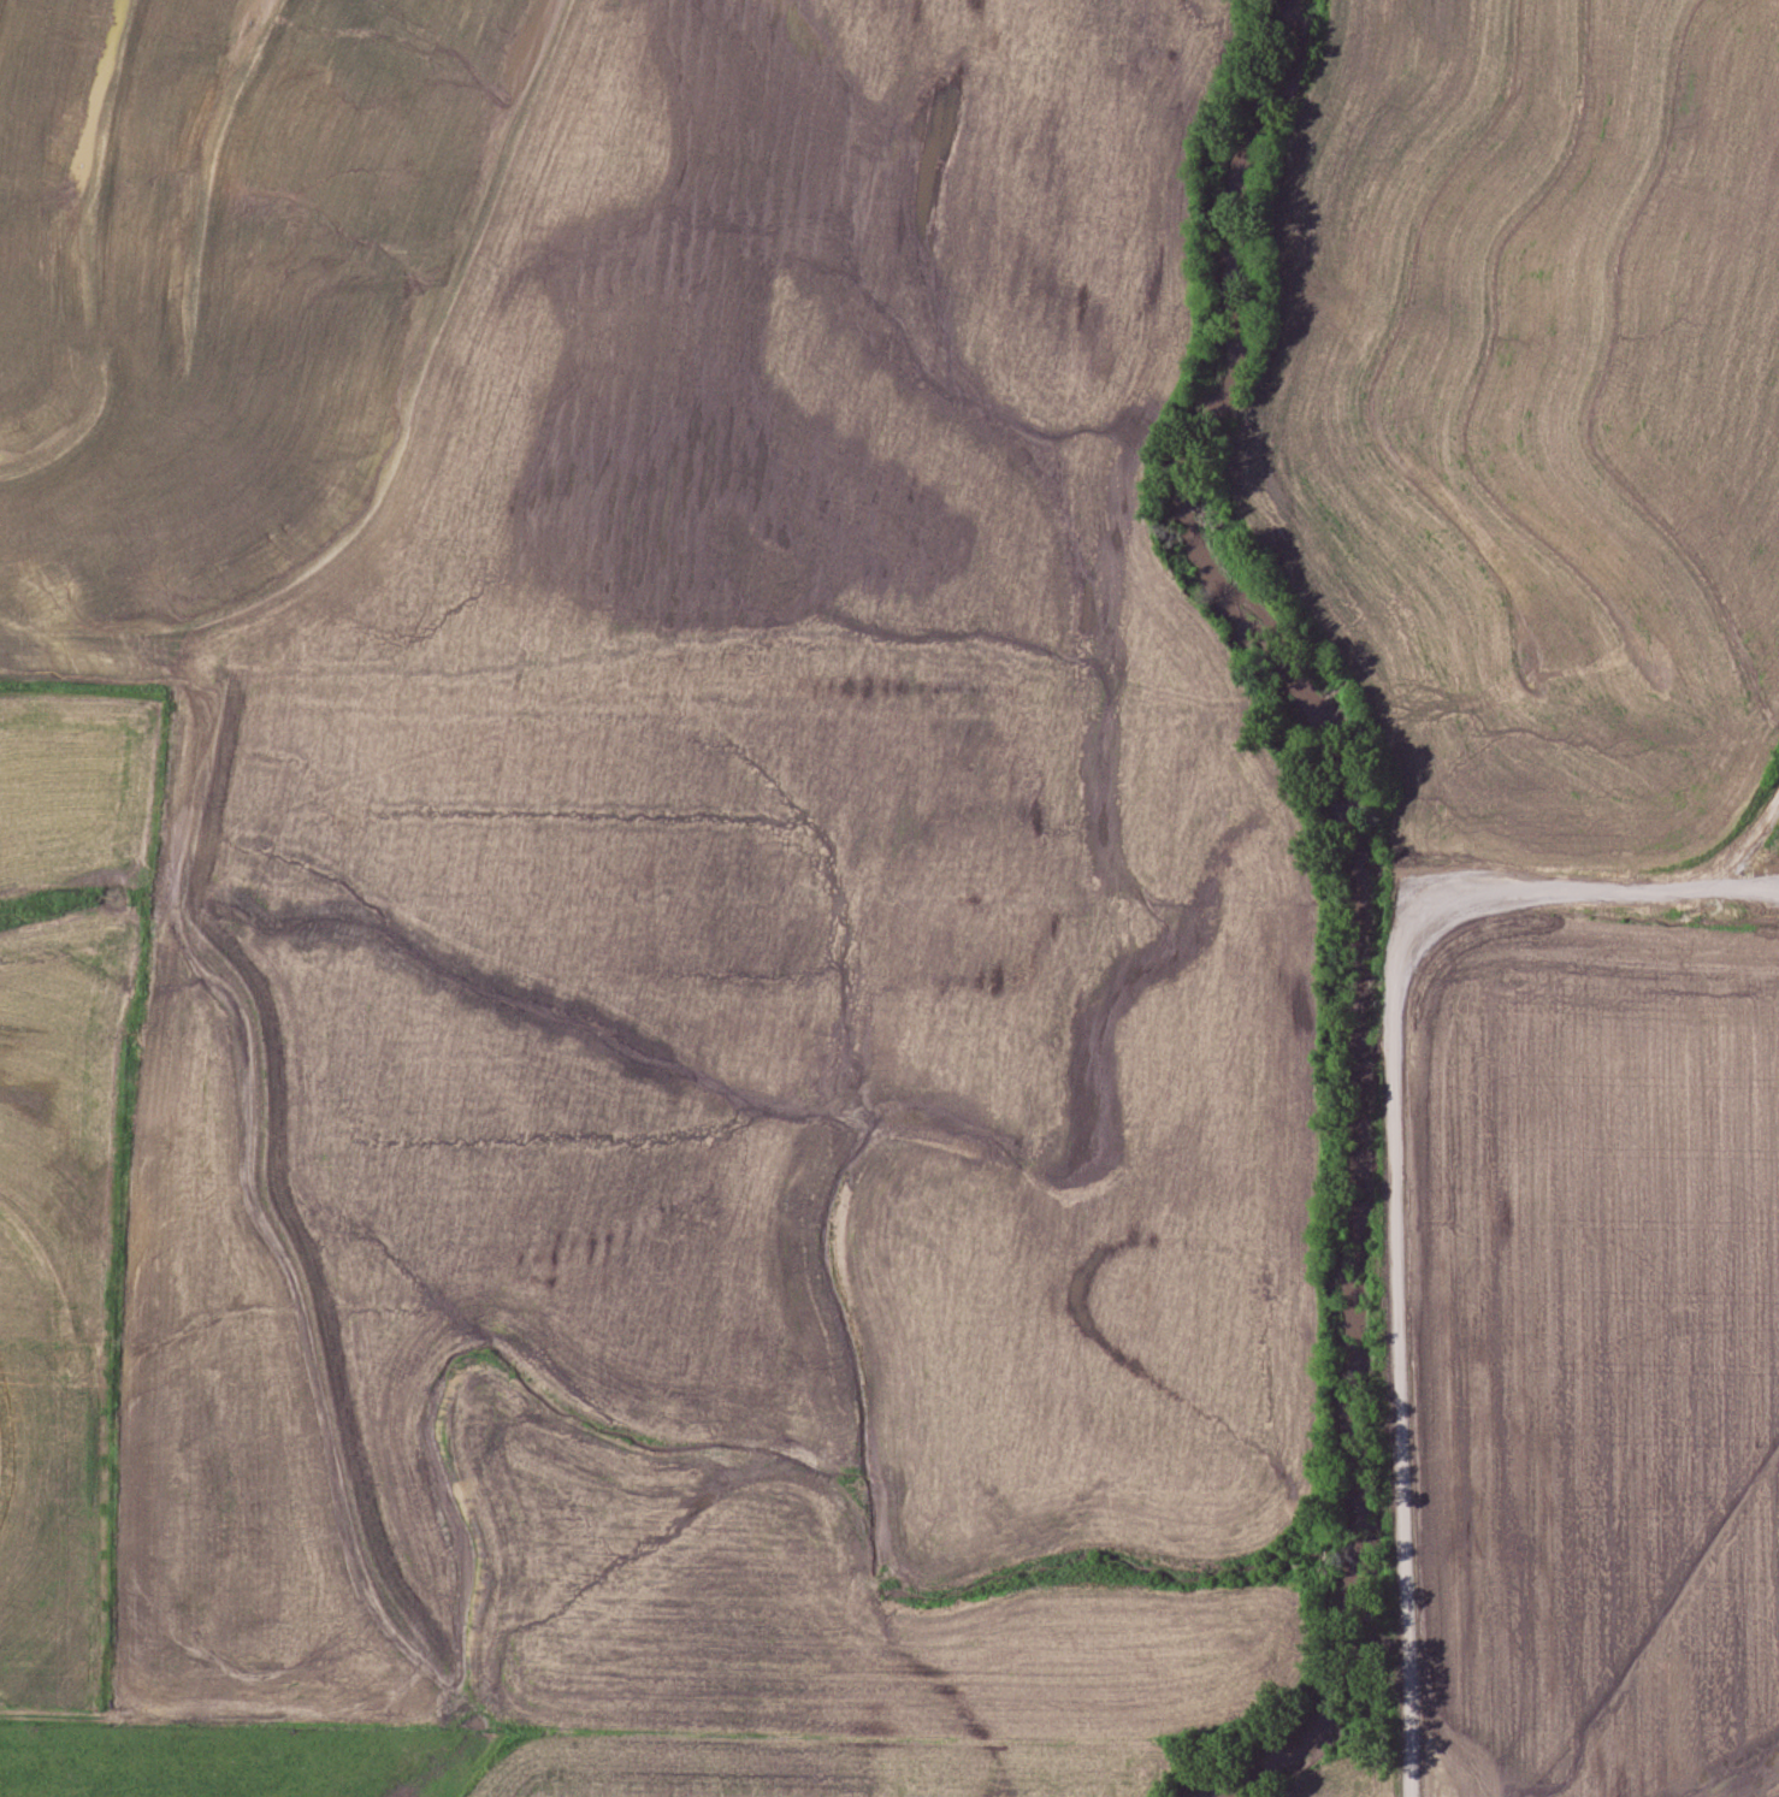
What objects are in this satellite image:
road: (1394, 1143)

